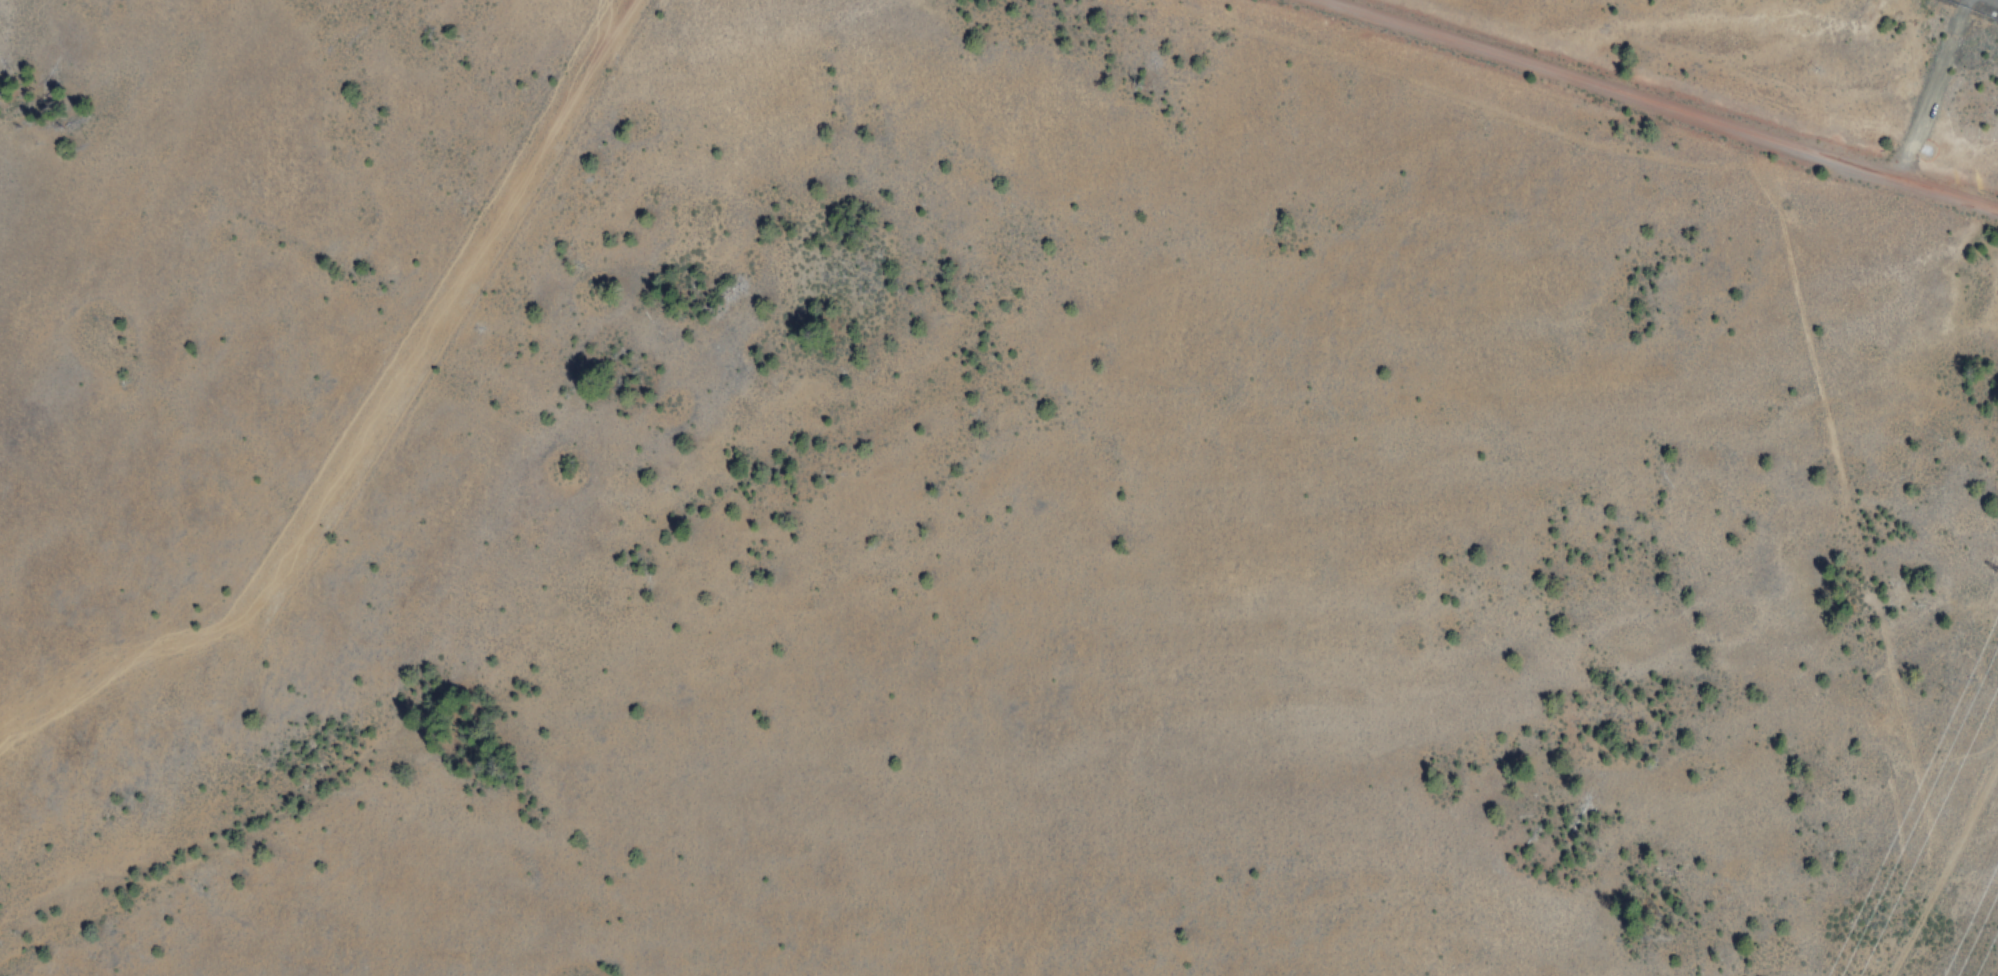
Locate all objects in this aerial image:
power substation: (1978, 7)
road: (1666, 103)
road: (376, 433)
road: (1848, 517)
road: (1945, 869)

